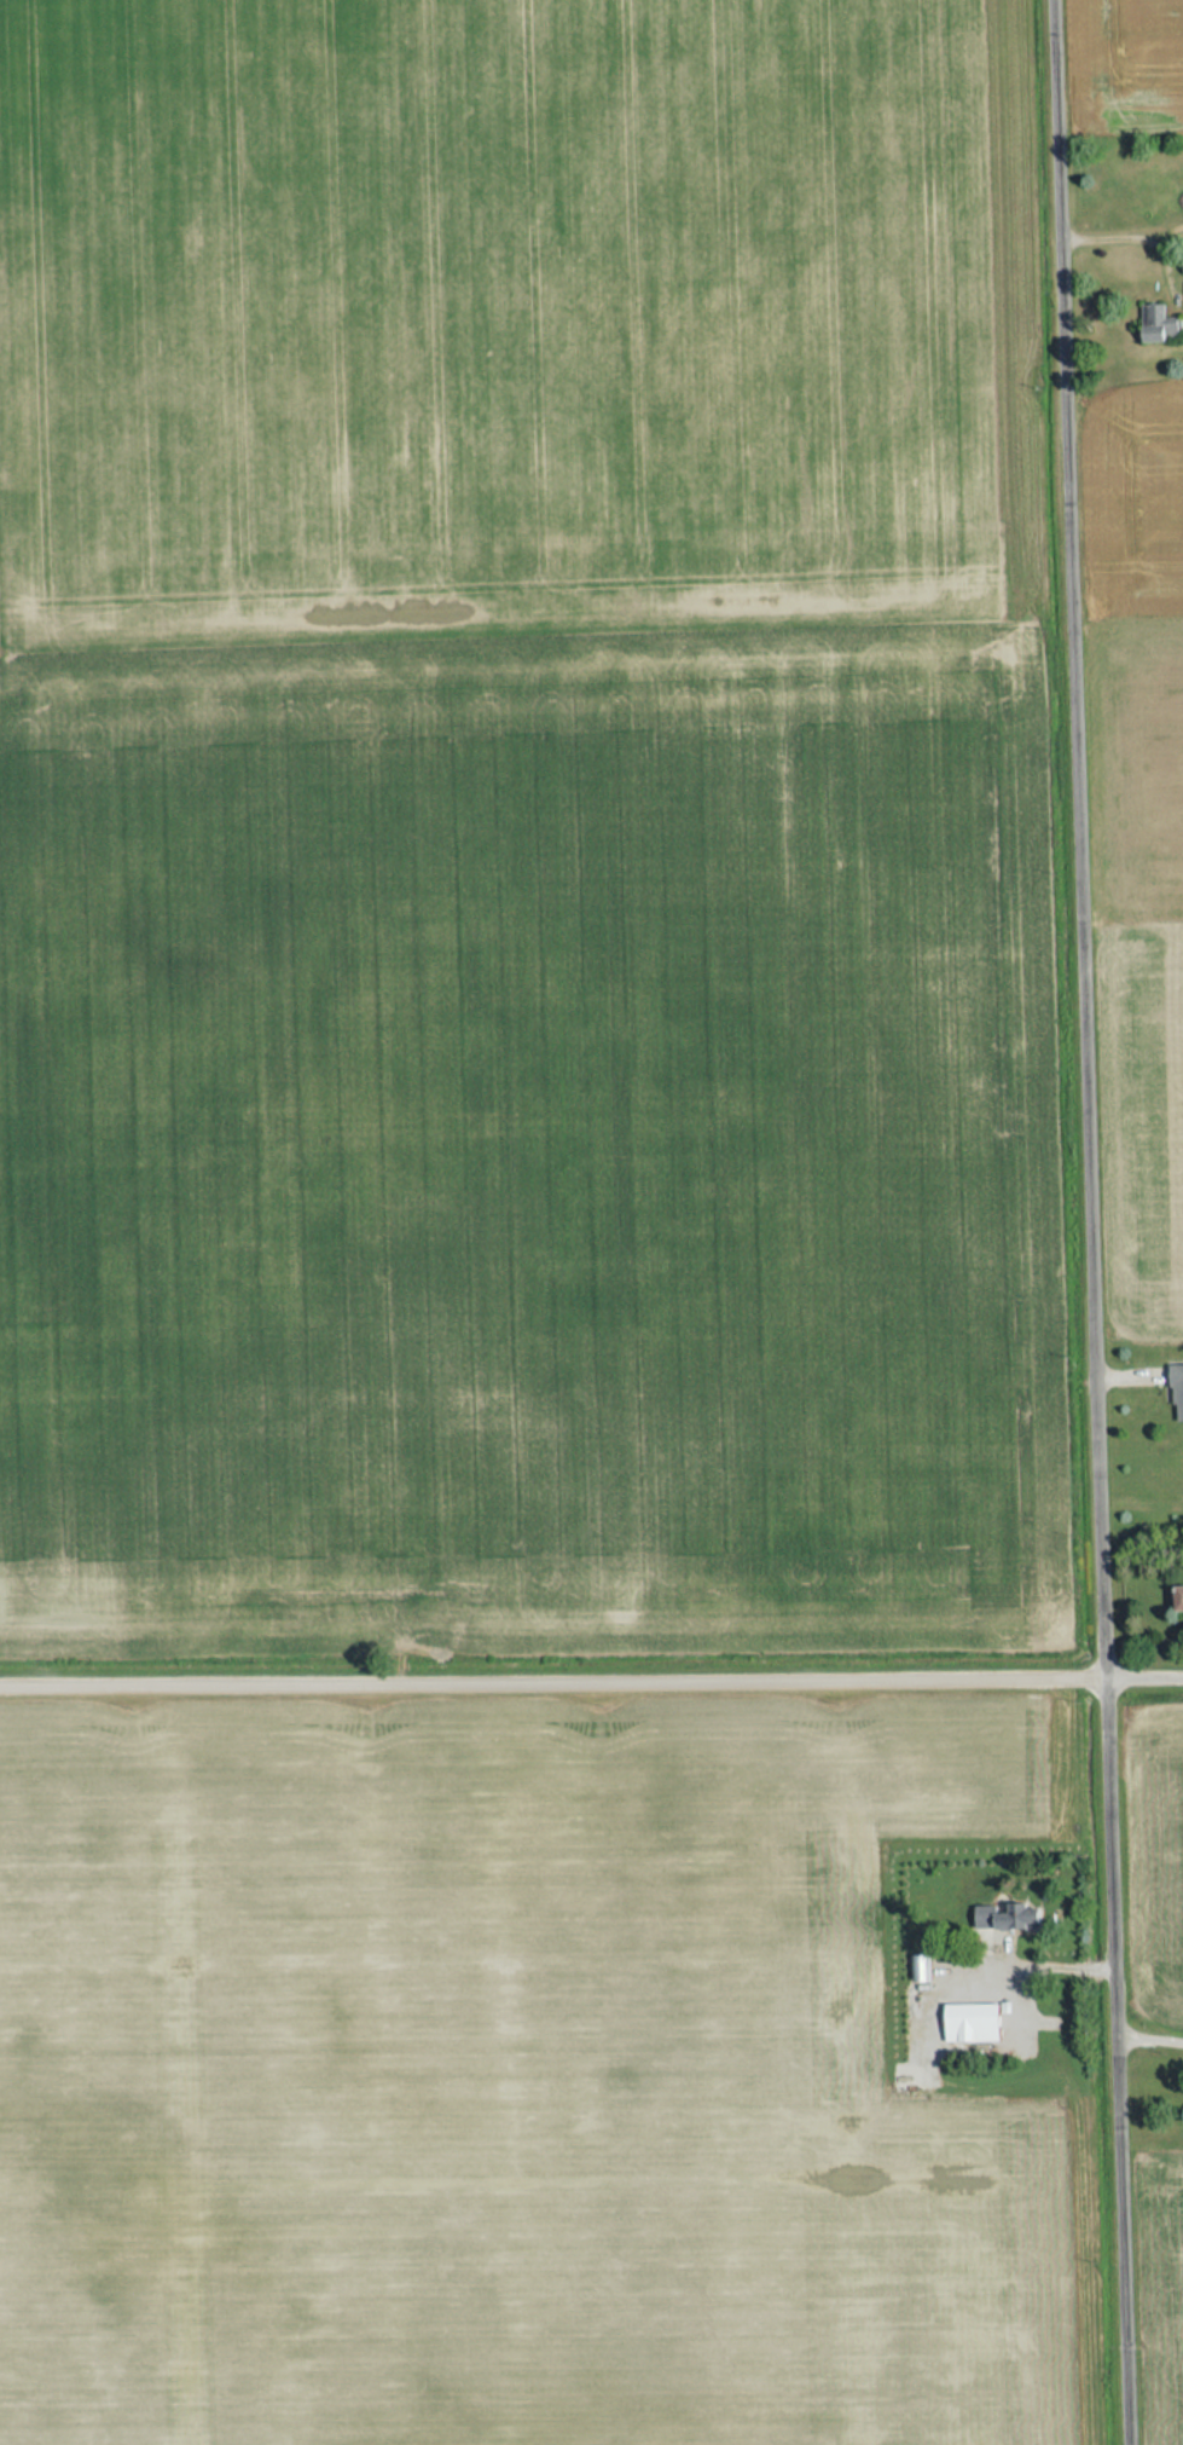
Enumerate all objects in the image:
crop: (1131, 62)
crop: (512, 834)
crop: (1141, 840)
road: (1090, 1224)
road: (1132, 1677)
road: (540, 1680)
crop: (1170, 1869)
building: (1007, 1918)
building: (920, 1969)
building: (975, 2023)
crop: (499, 2081)
crop: (1173, 2273)

